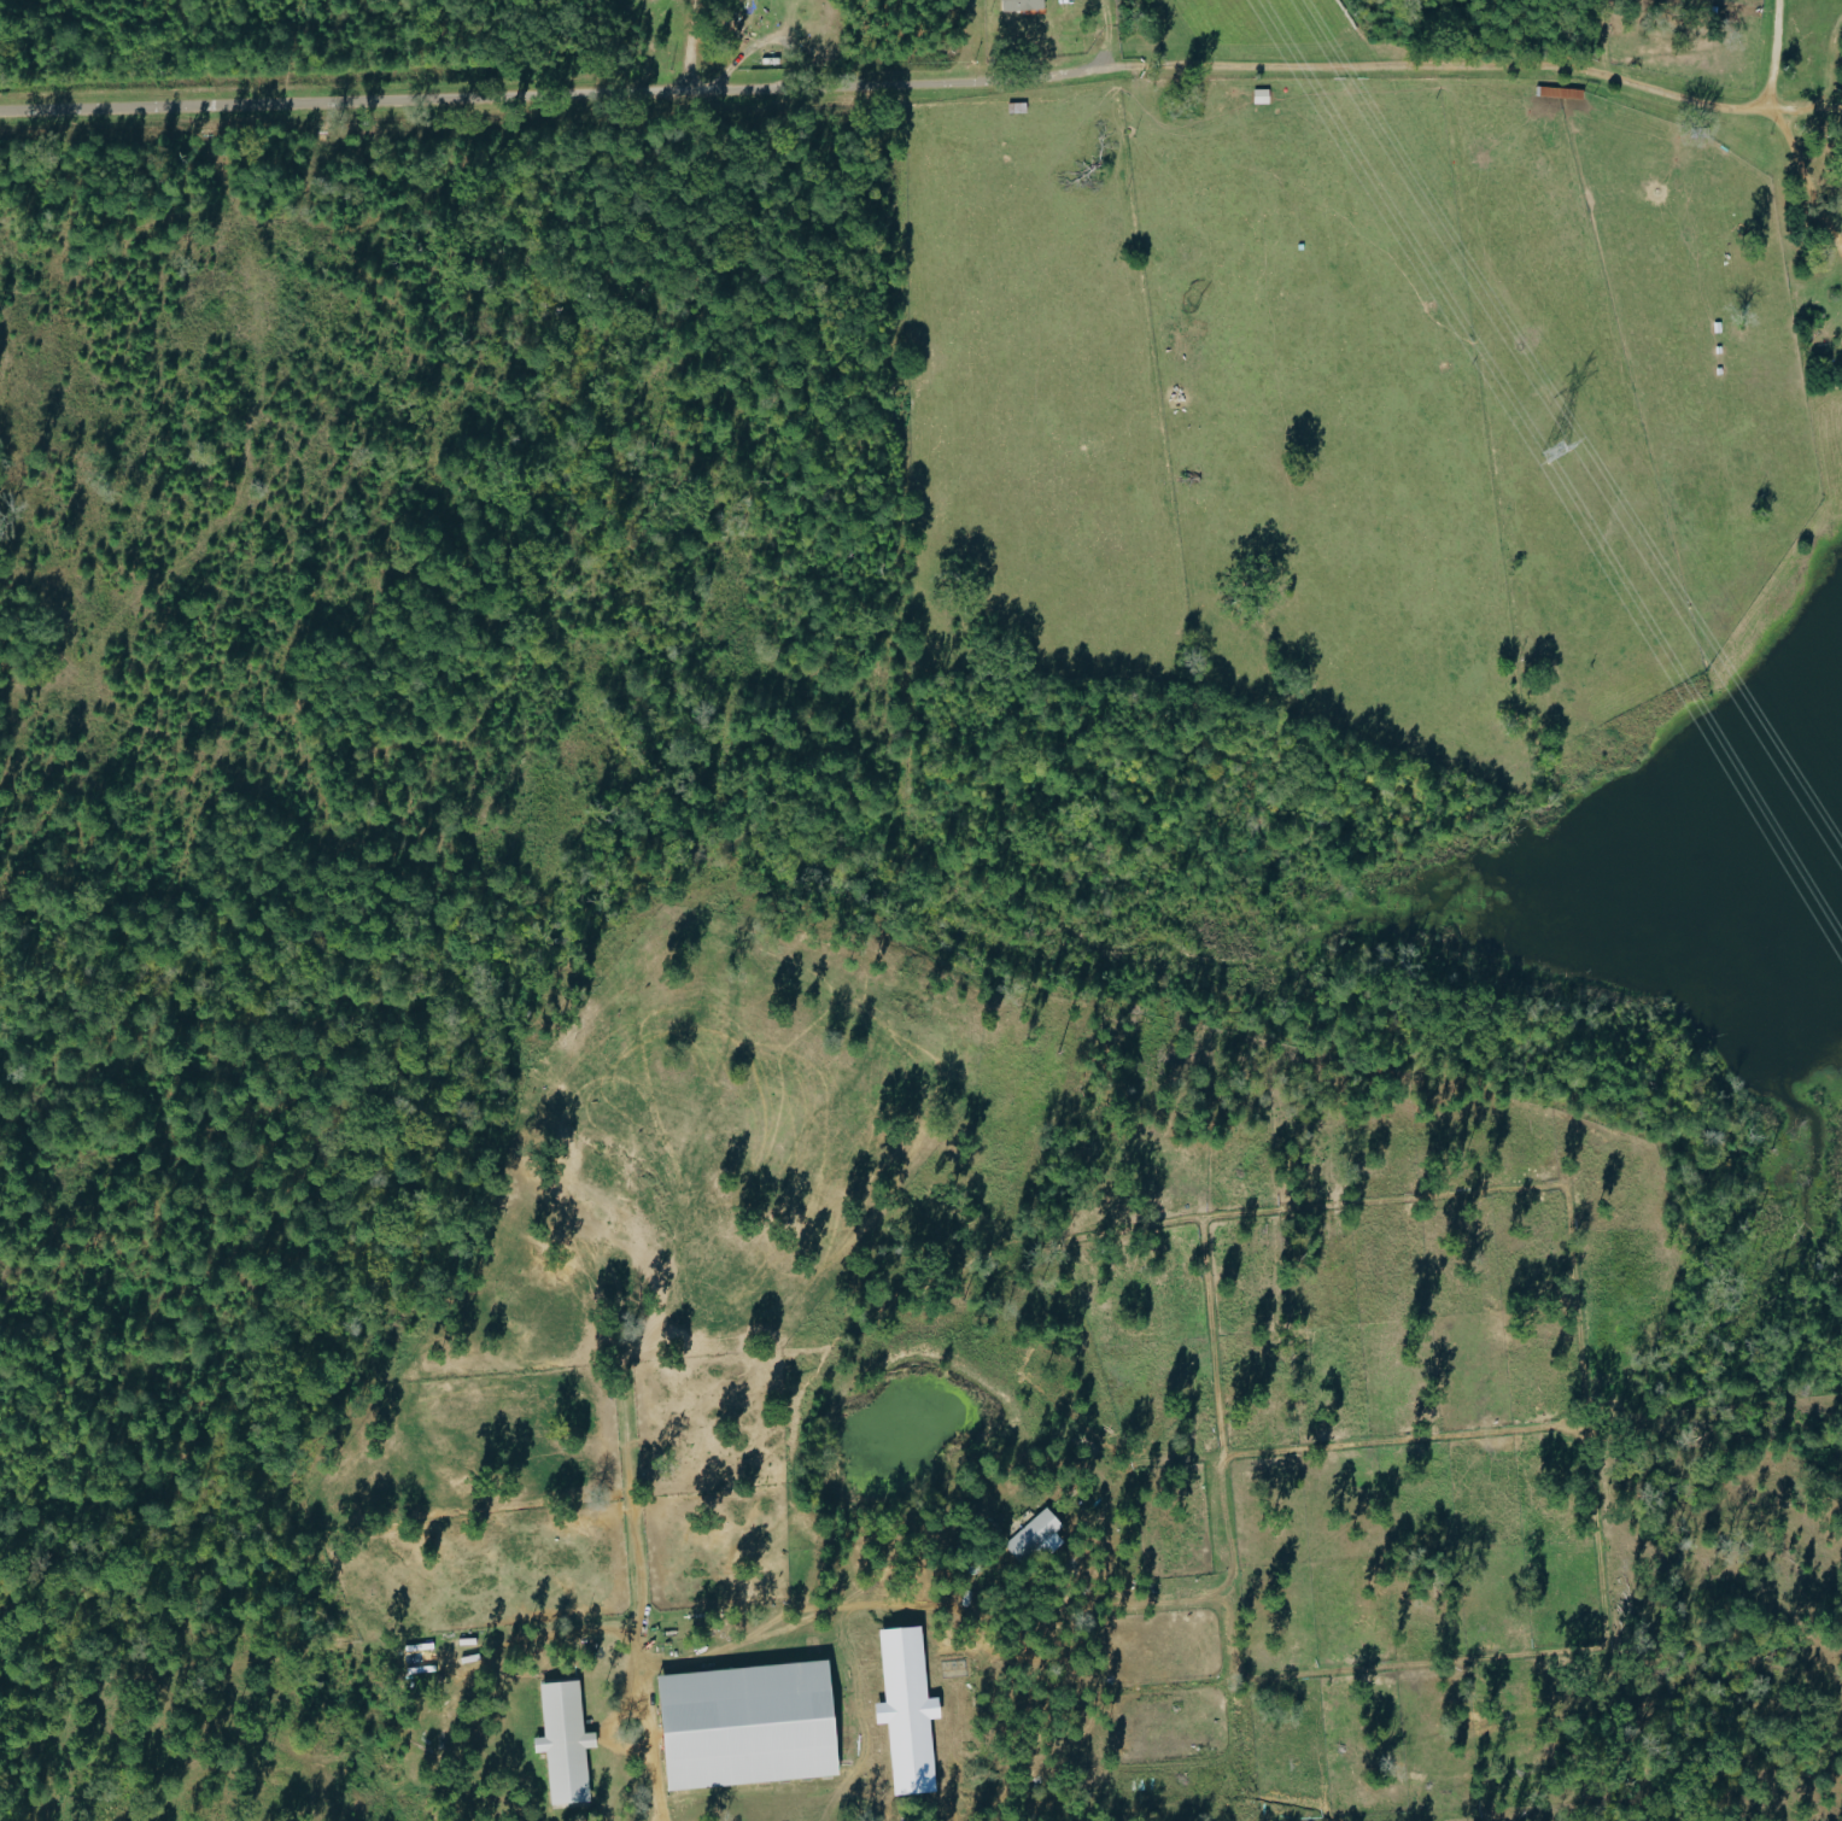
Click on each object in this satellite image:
building: (1018, 5)
road: (694, 45)
road: (1764, 59)
road: (923, 83)
road: (1805, 182)
power tower: (1550, 453)
building: (1030, 1535)
building: (902, 1710)
building: (737, 1725)
building: (560, 1741)
road: (655, 1749)

